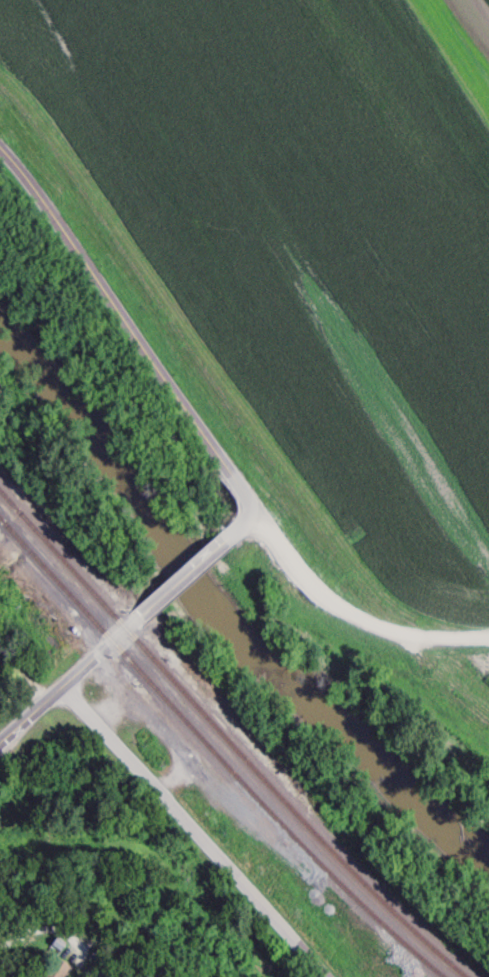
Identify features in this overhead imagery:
crop: (313, 234)
road: (136, 329)
road: (242, 529)
road: (184, 582)
road: (366, 596)
river: (211, 601)
crop: (482, 663)
road: (72, 681)
railway: (227, 741)
railway: (213, 753)
road: (172, 840)
building: (57, 949)
road: (258, 963)

